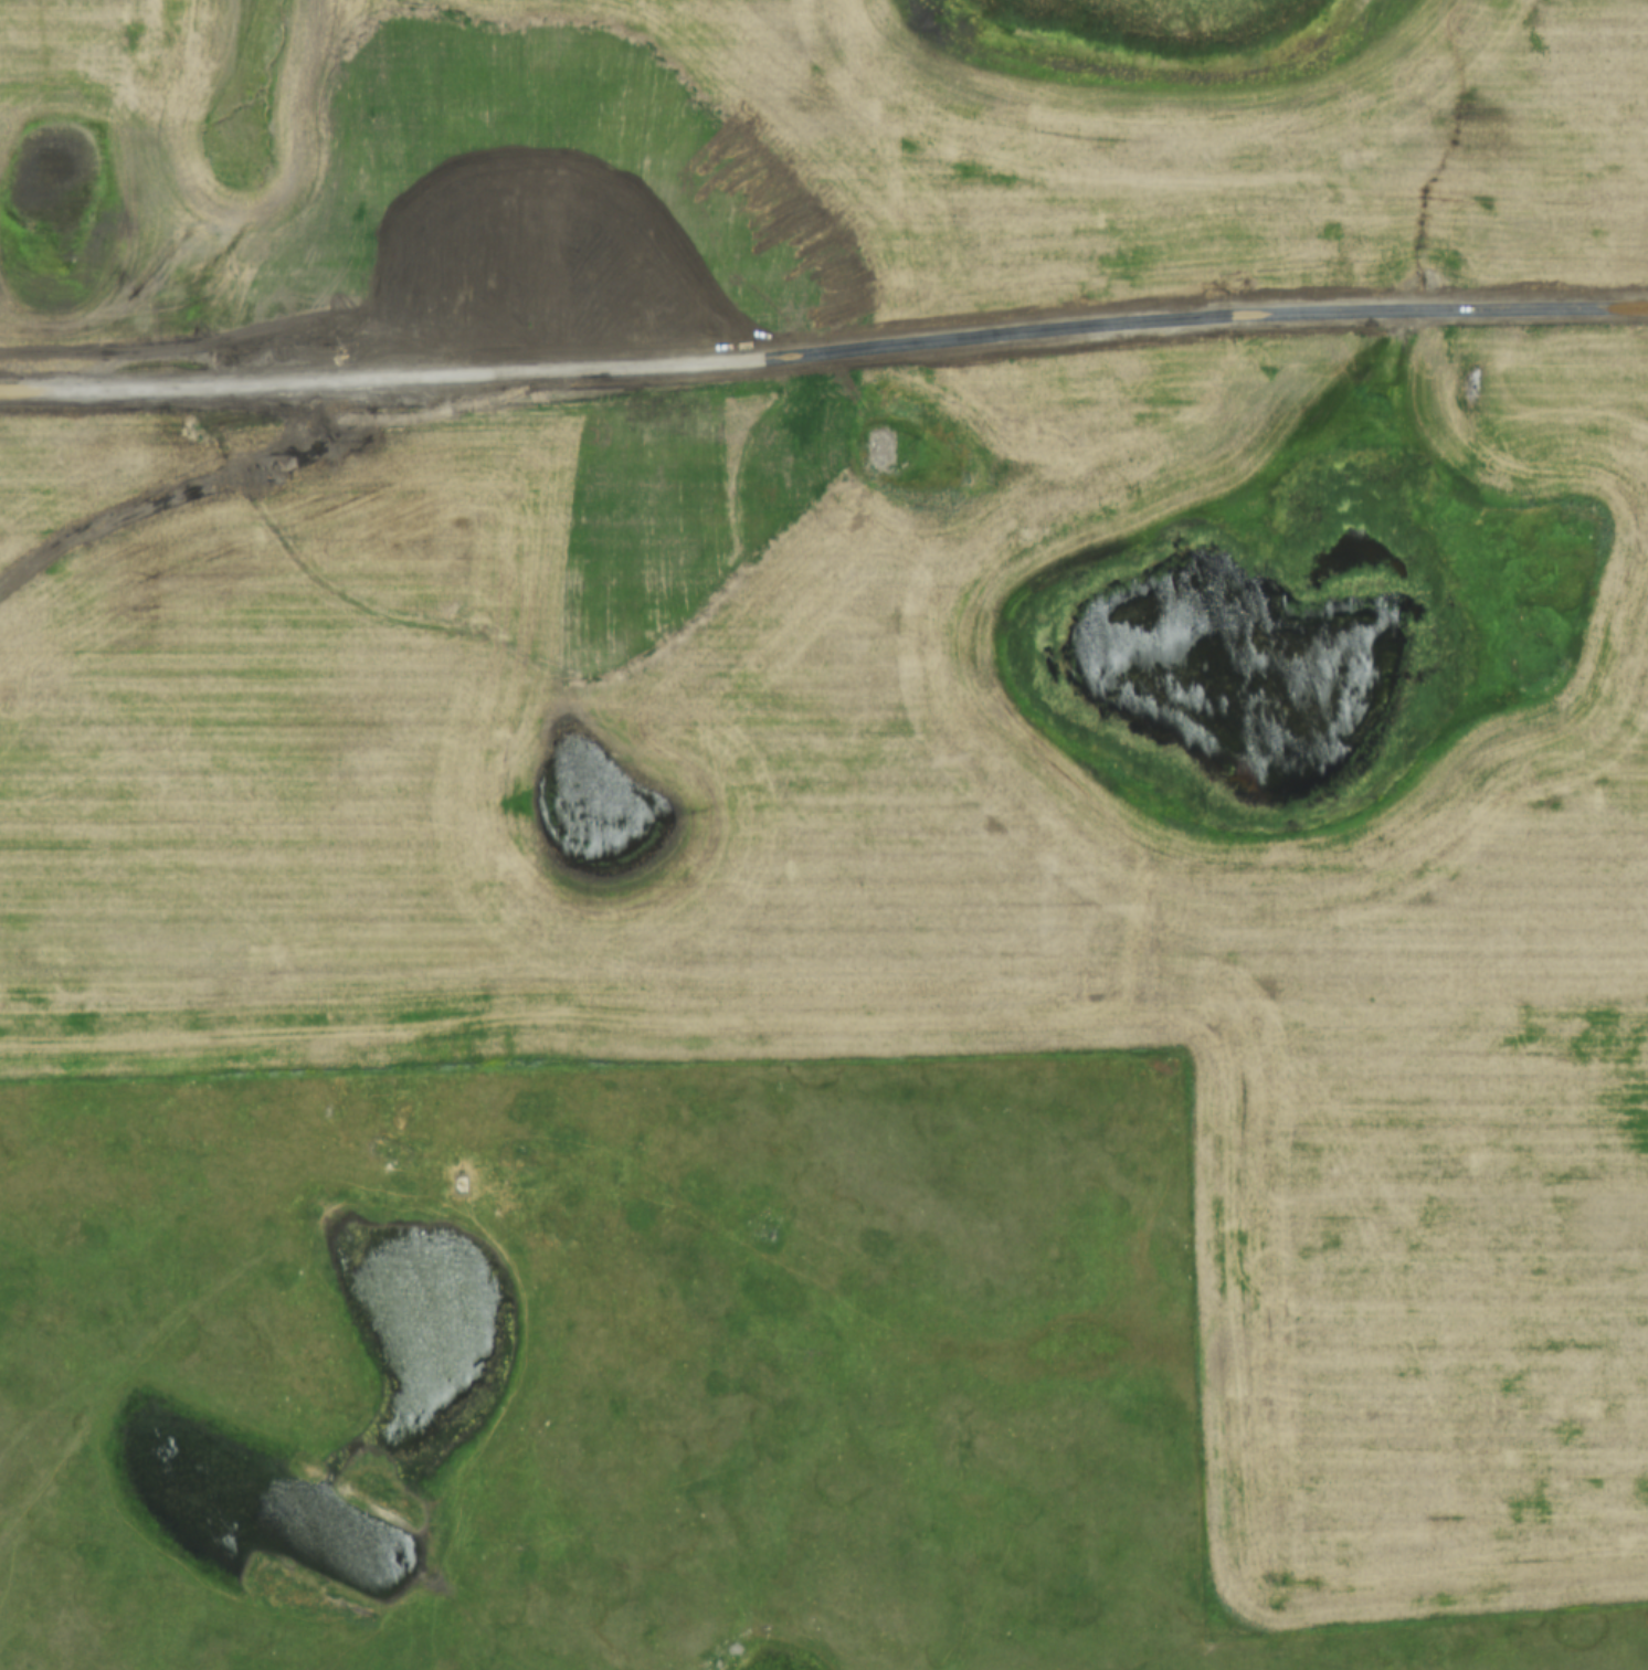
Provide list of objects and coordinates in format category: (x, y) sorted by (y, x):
wind turbine: (534, 336)

